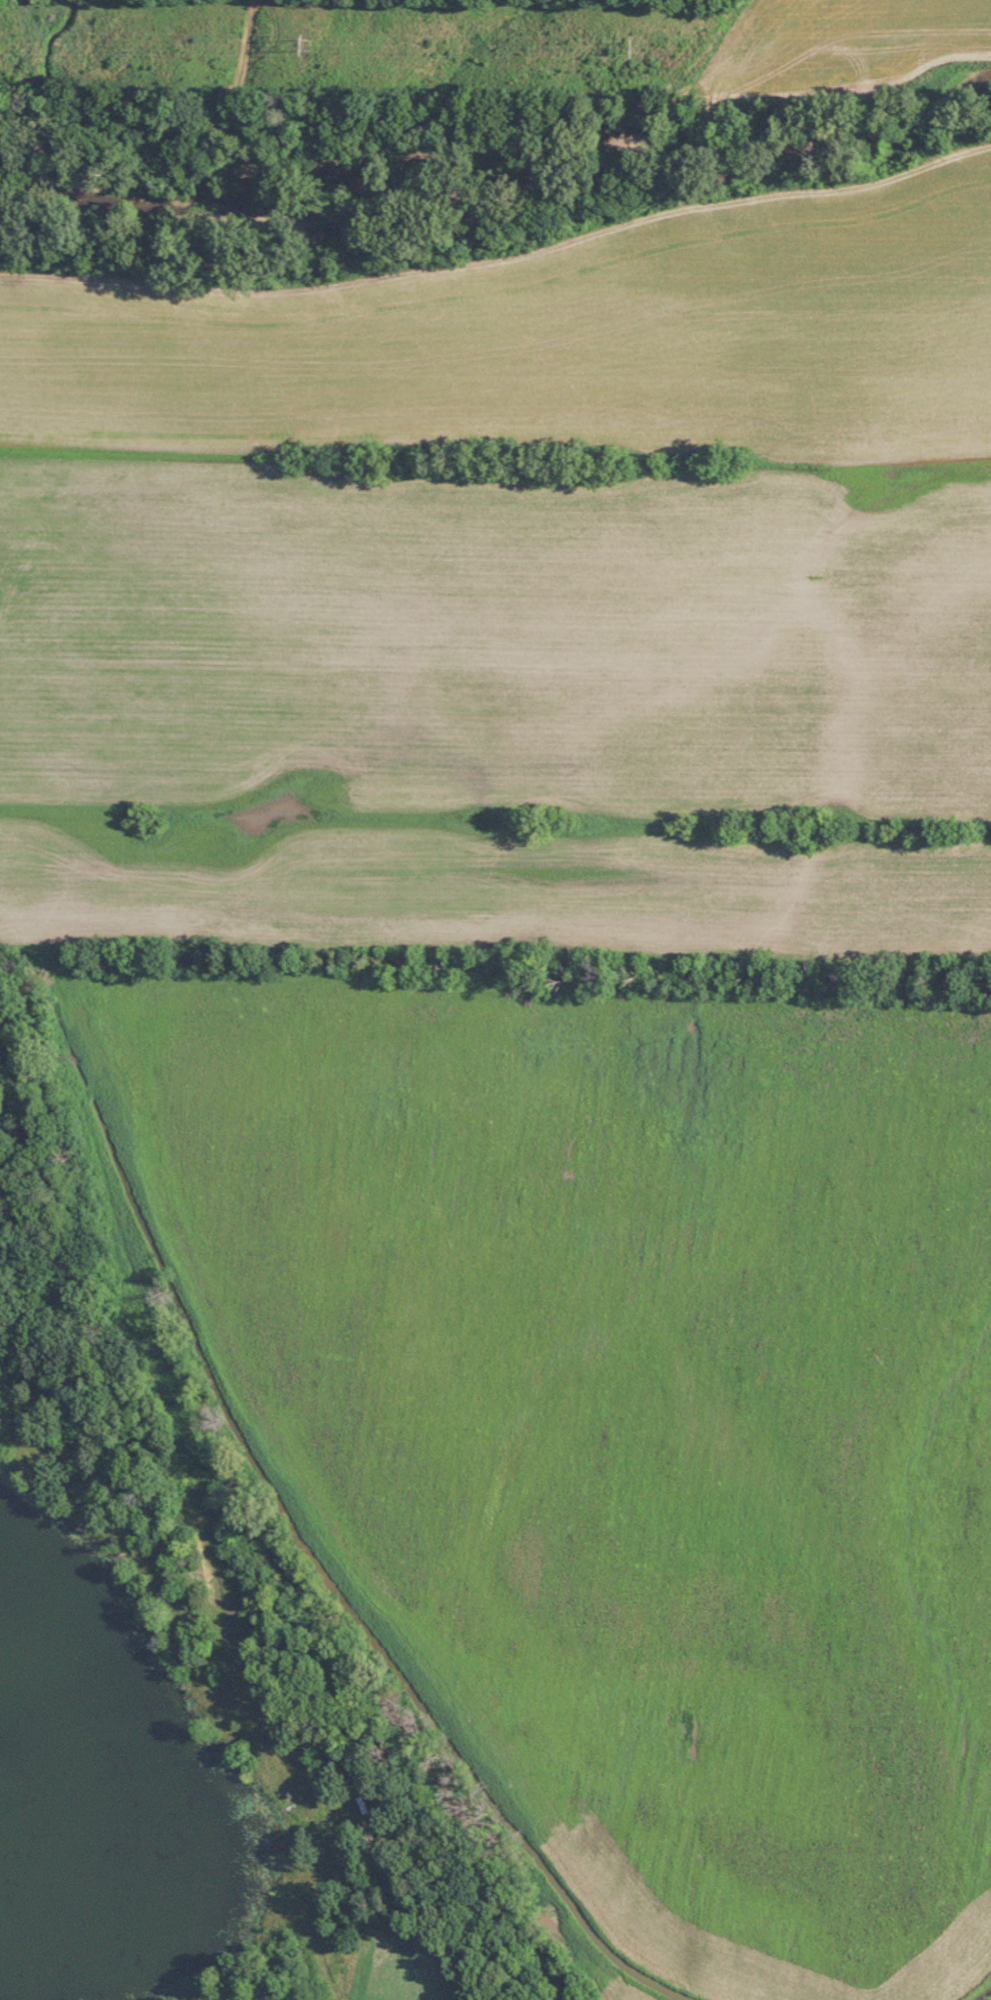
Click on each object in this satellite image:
power tower: (302, 45)
power tower: (635, 45)

